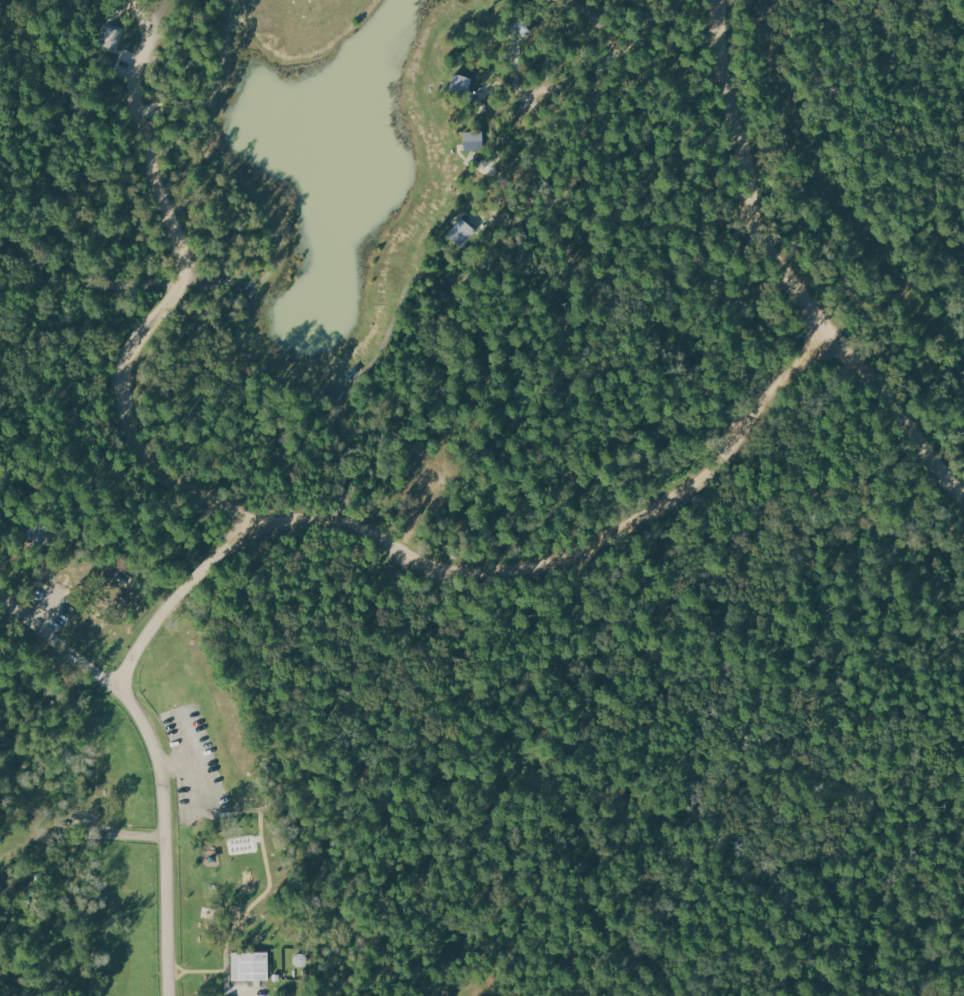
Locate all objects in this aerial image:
building: (111, 38)
building: (458, 85)
building: (461, 233)
road: (788, 273)
road: (584, 276)
road: (170, 298)
road: (415, 508)
road: (557, 560)
road: (195, 578)
road: (47, 607)
road: (19, 610)
road: (76, 654)
road: (190, 708)
road: (170, 765)
road: (164, 779)
road: (583, 779)
road: (128, 832)
road: (243, 914)
building: (250, 966)
road: (226, 986)
road: (242, 991)

